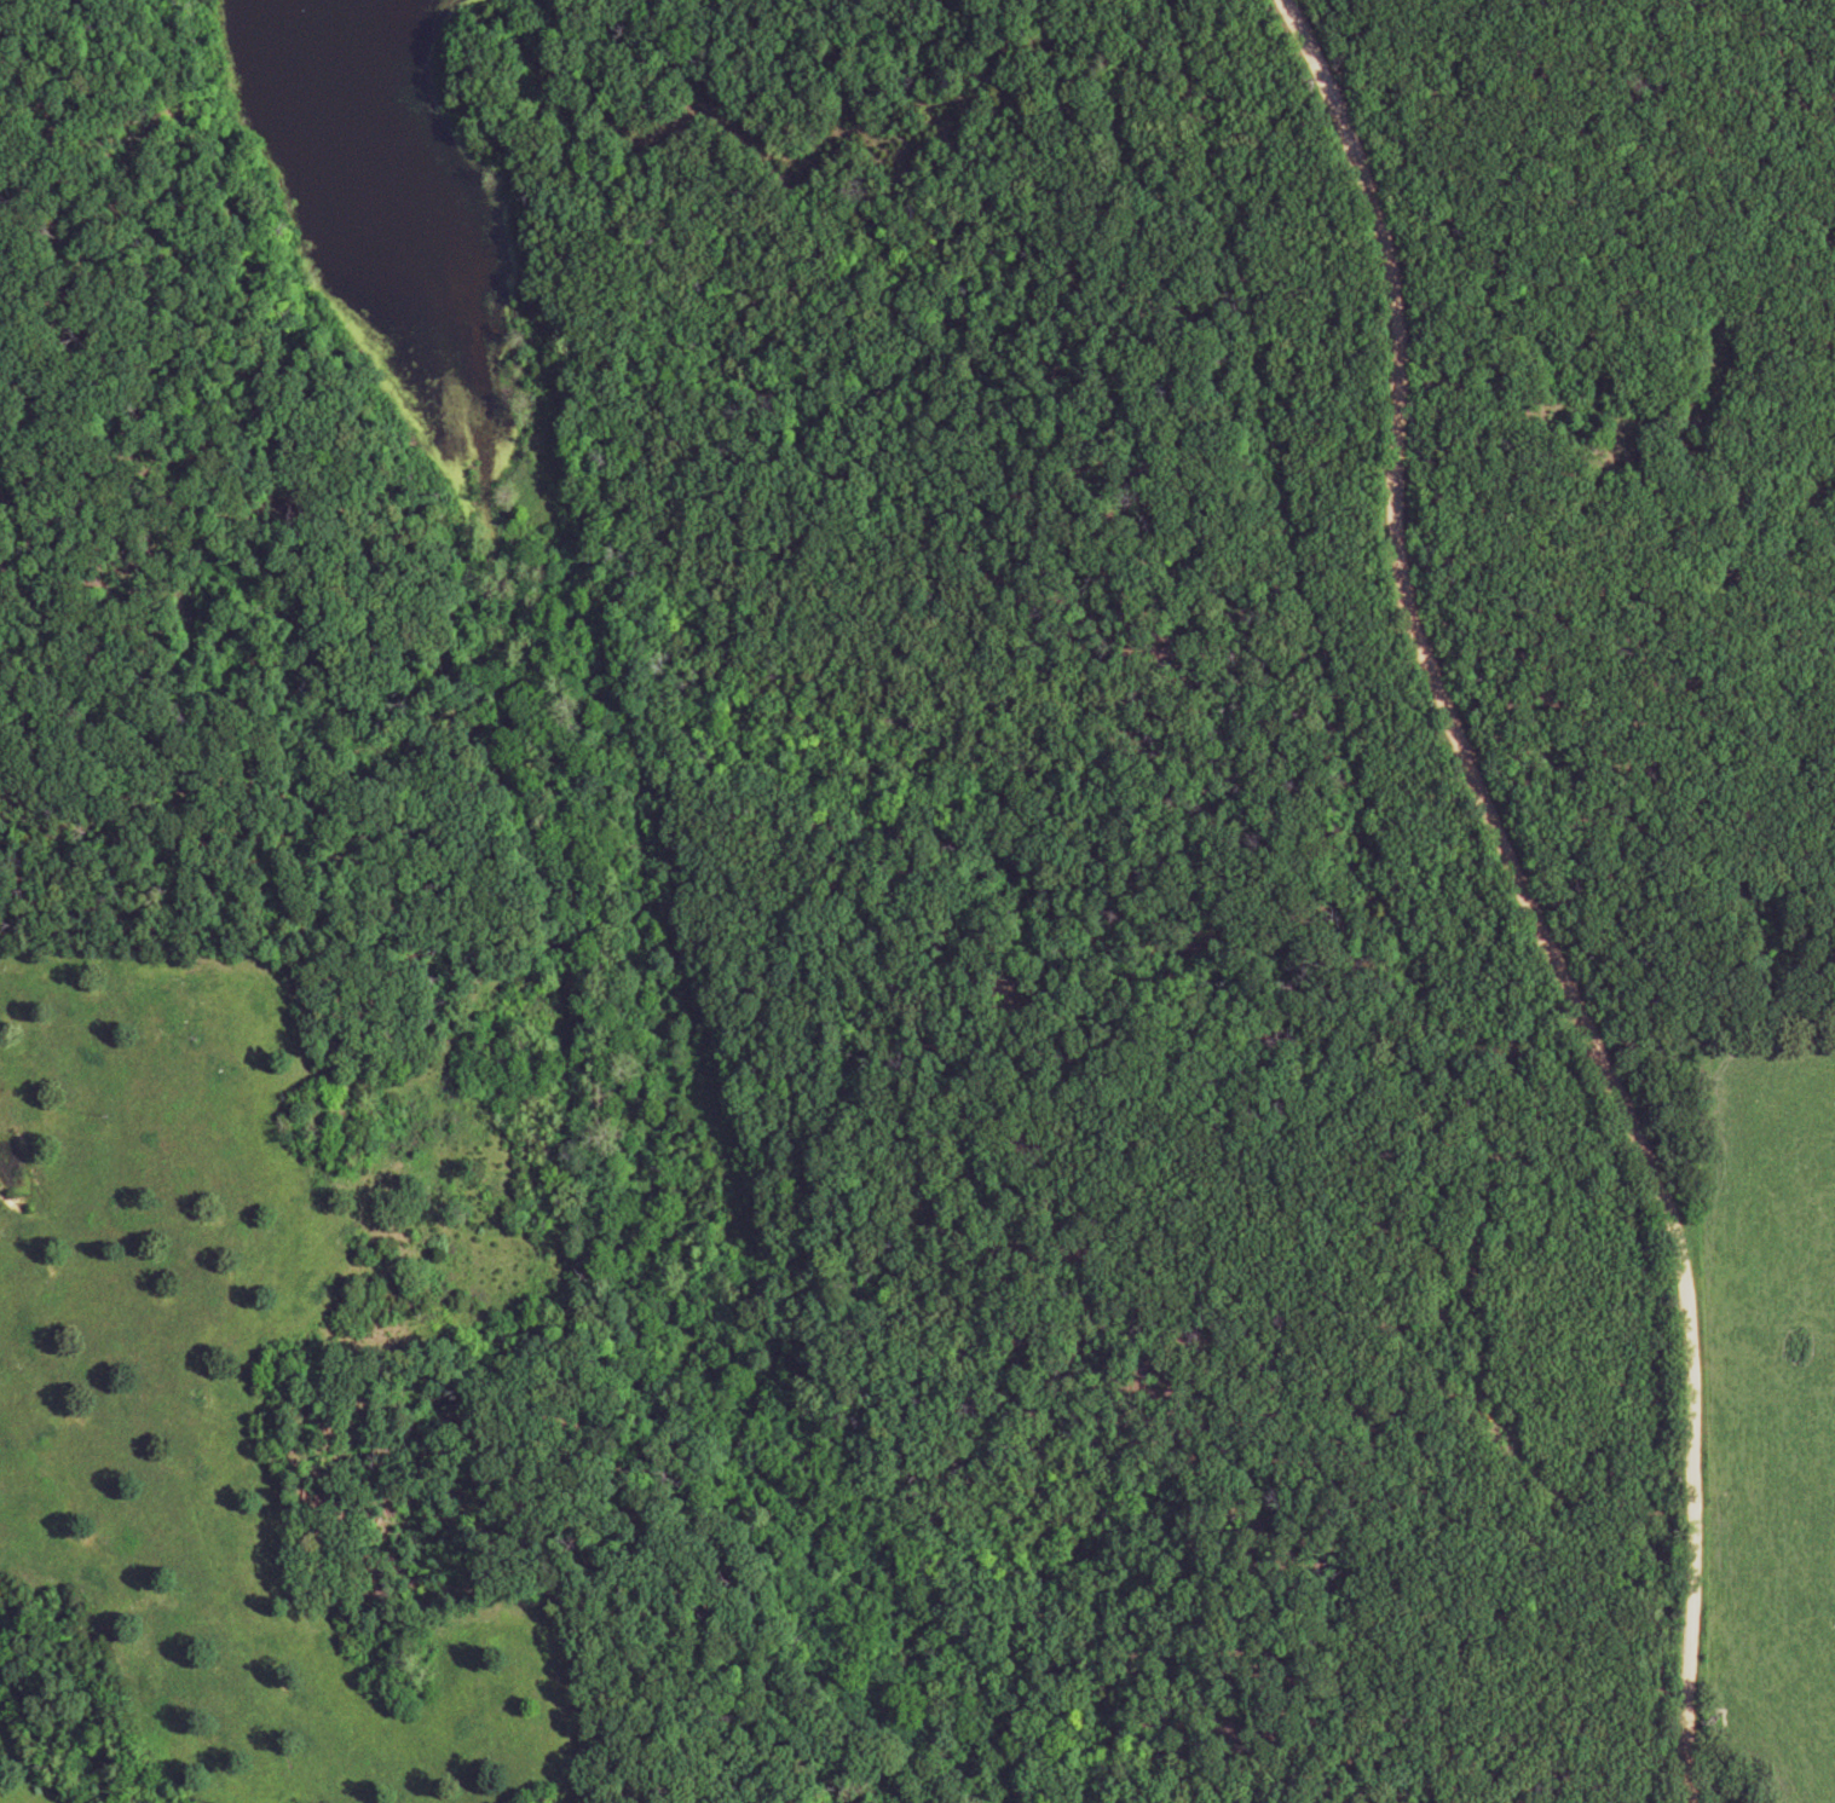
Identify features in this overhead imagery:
road: (1530, 891)

